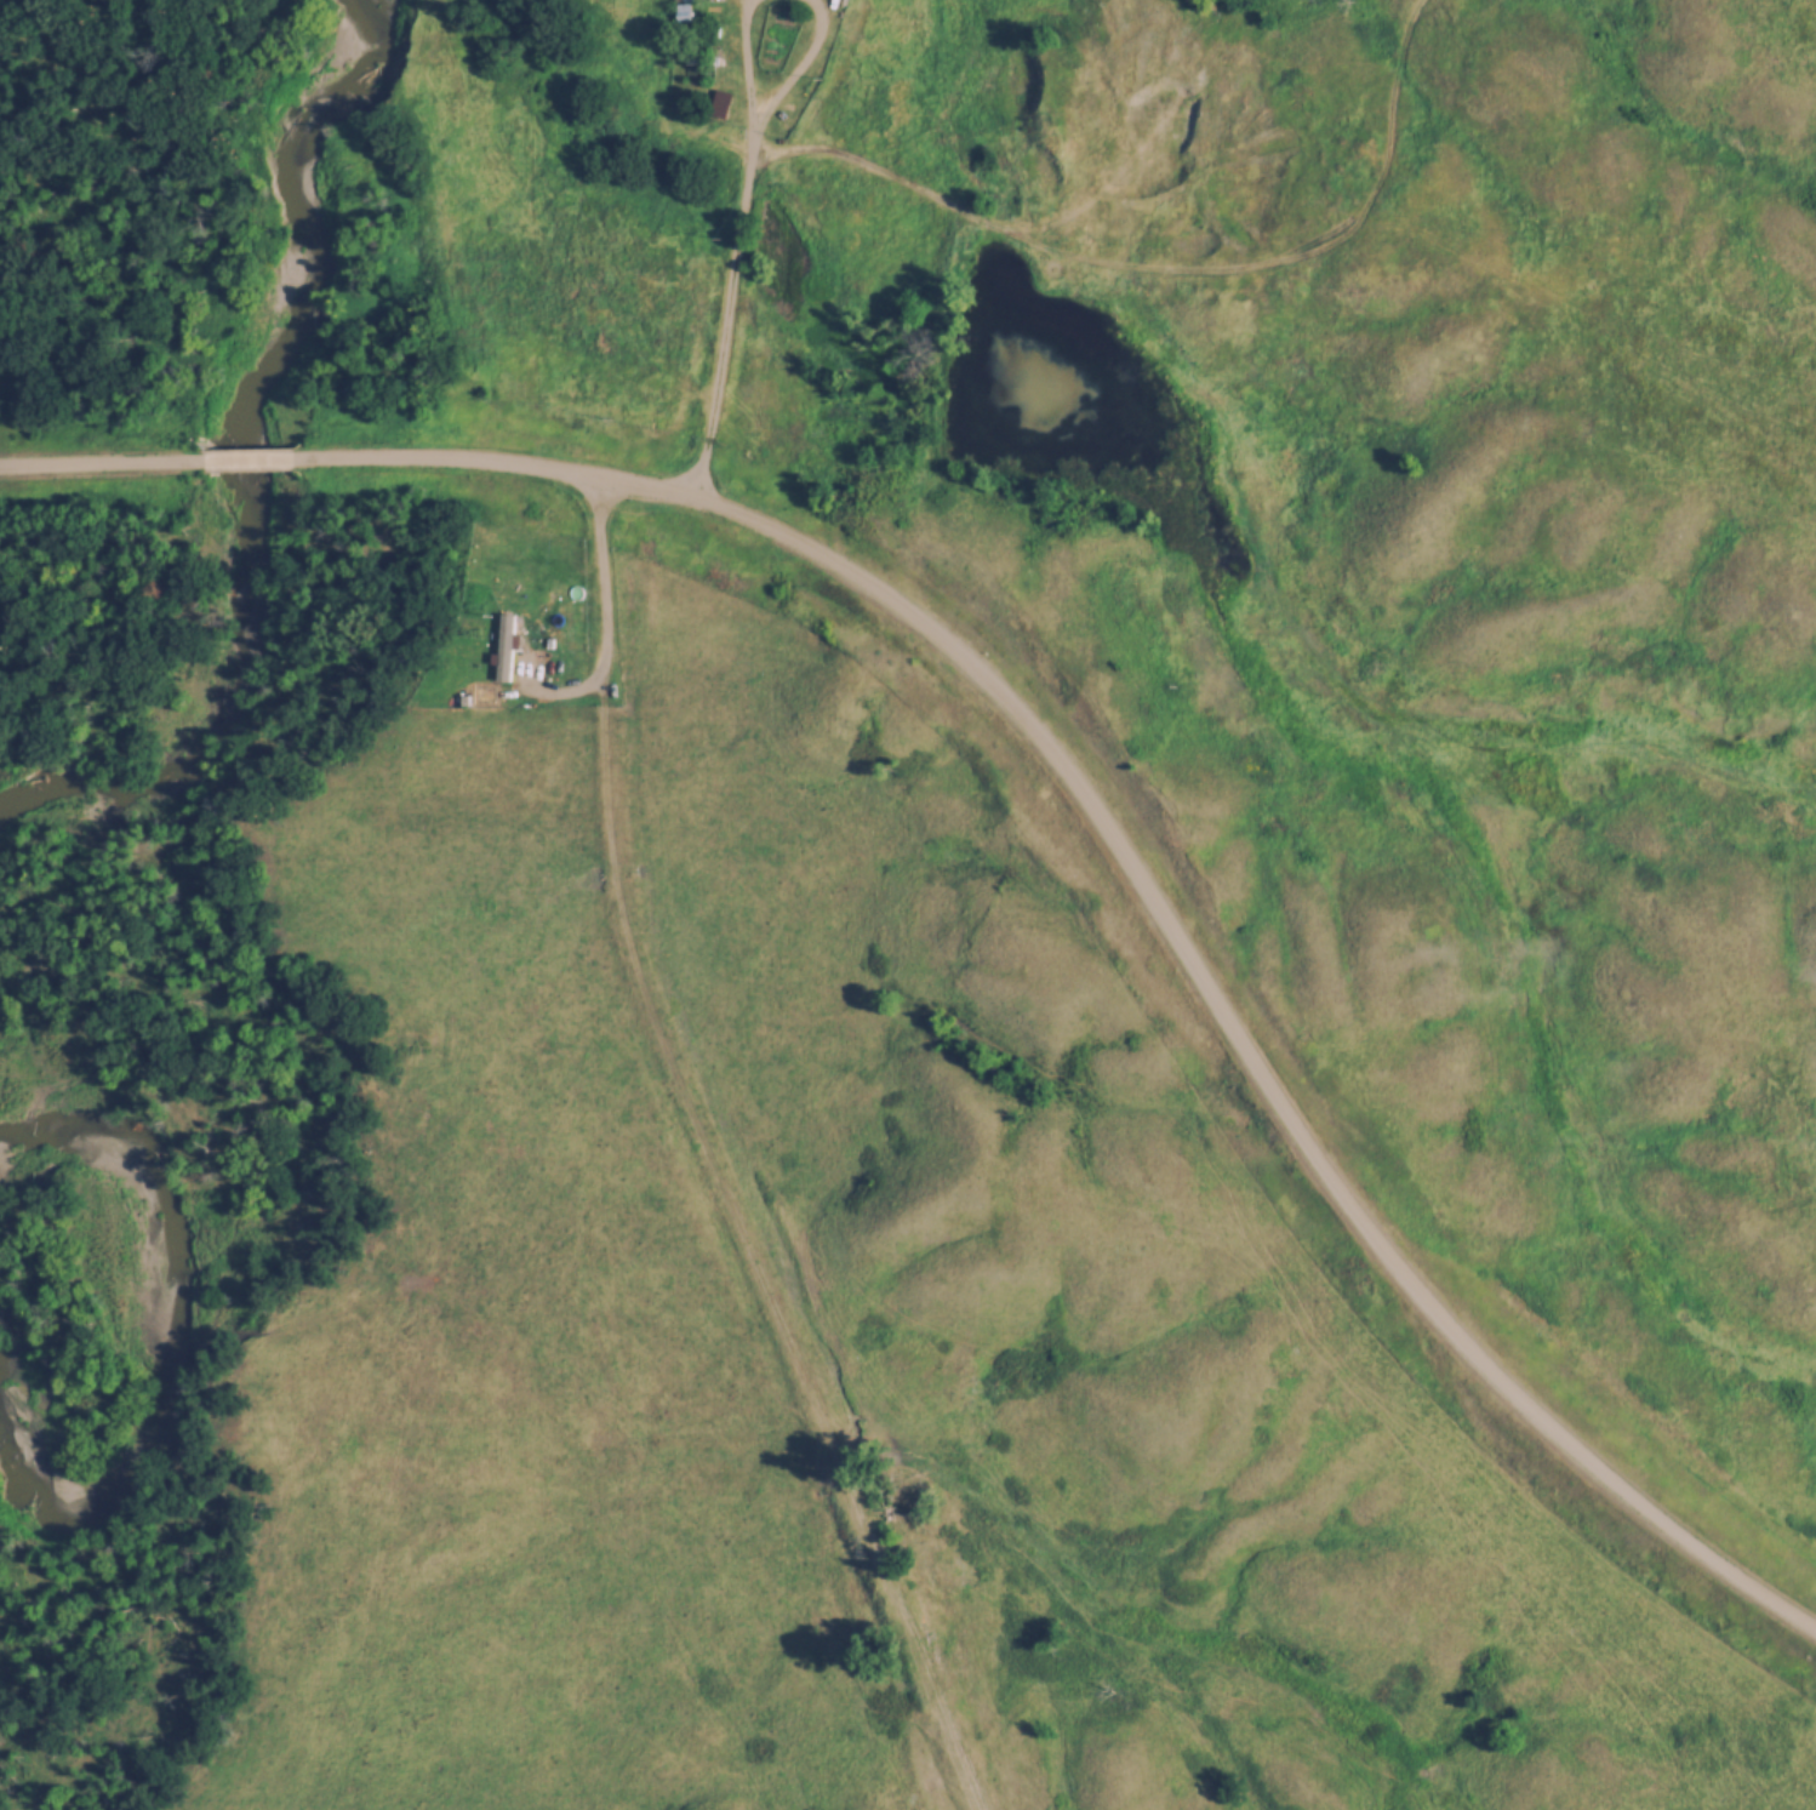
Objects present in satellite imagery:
building: (687, 8)
road: (259, 463)
road: (95, 466)
river: (259, 466)
road: (1157, 900)
river: (195, 1323)

